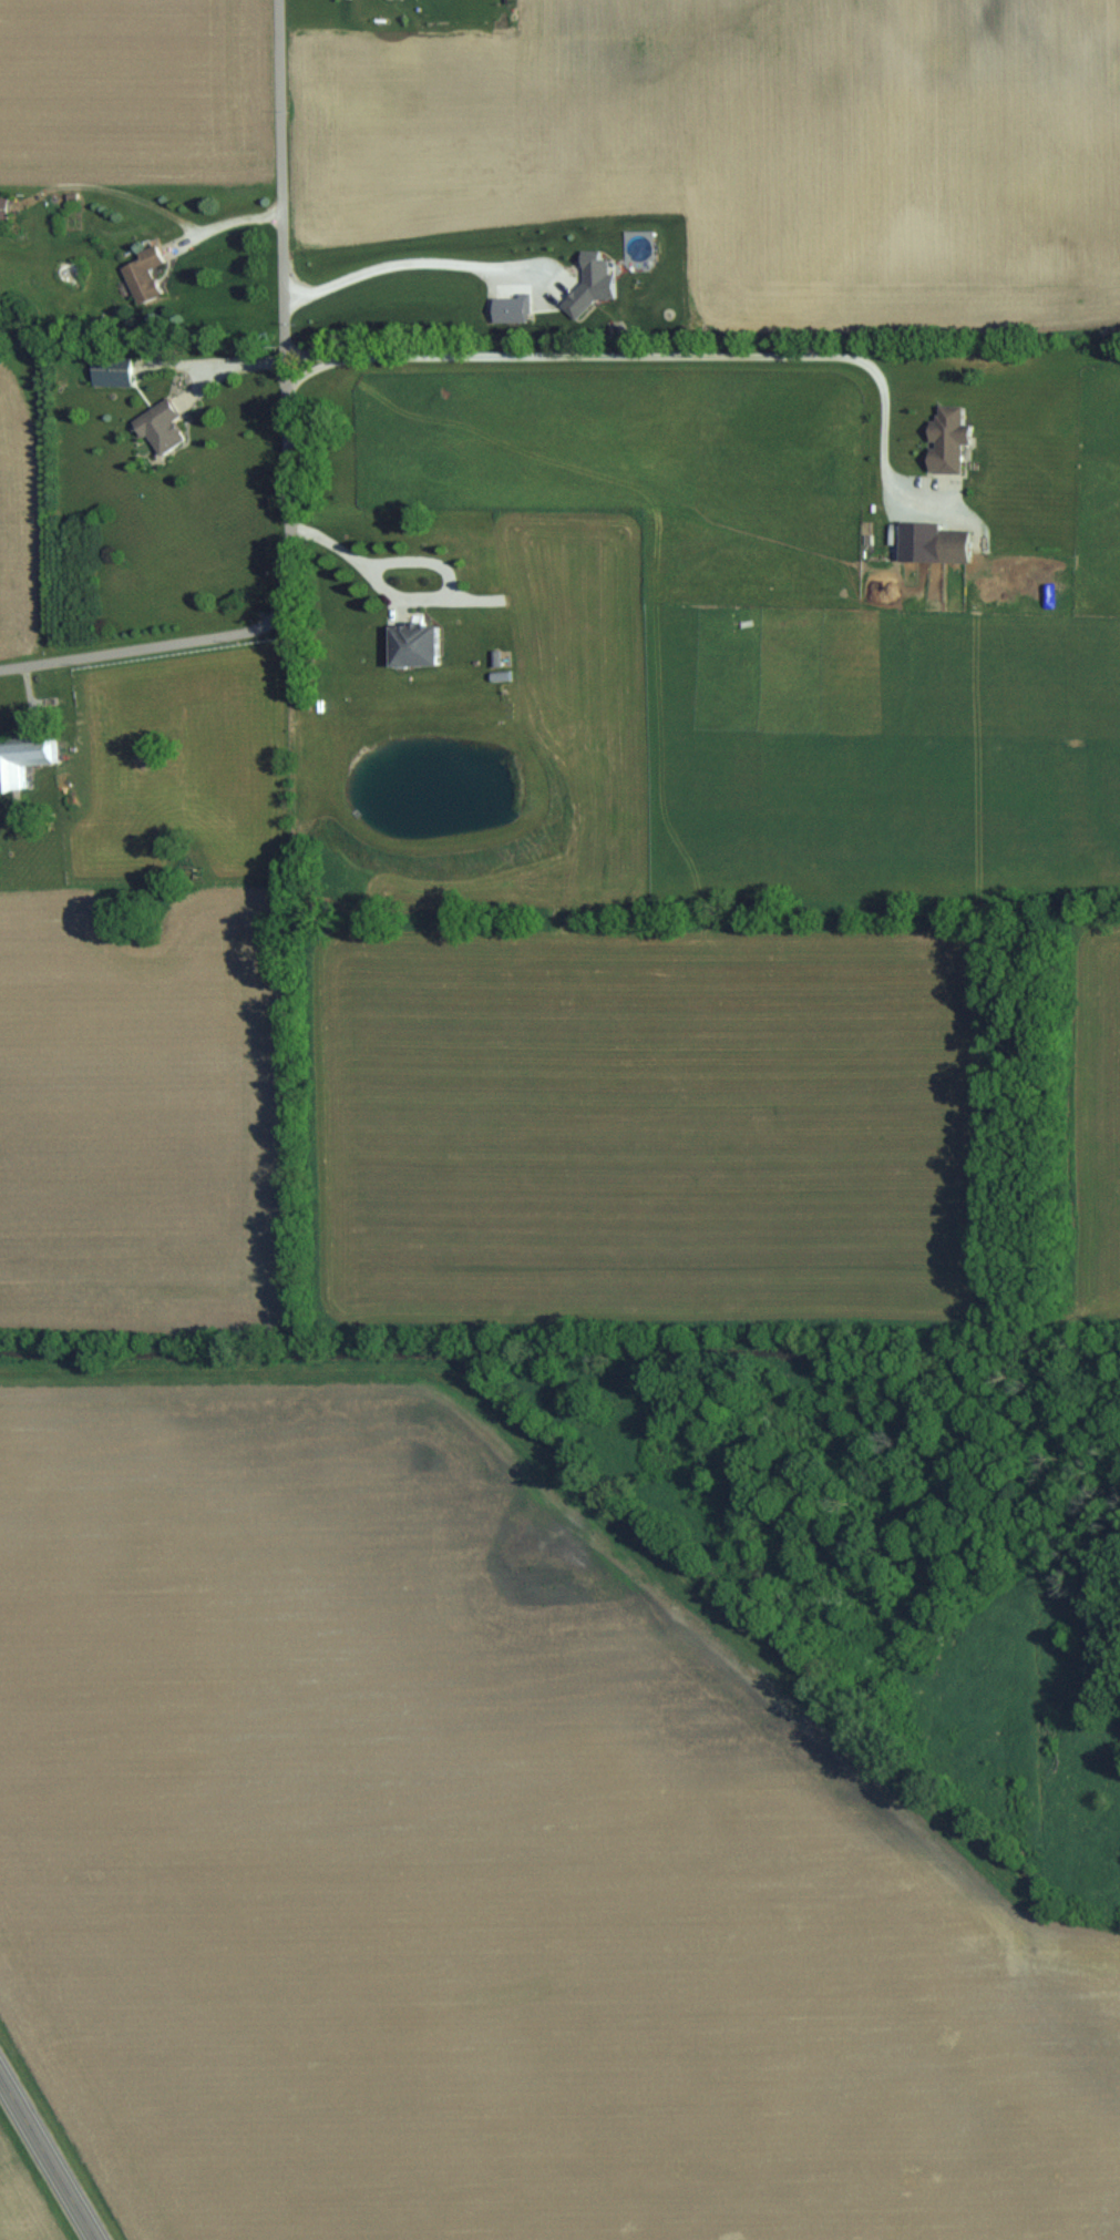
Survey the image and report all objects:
building: (4, 207)
road: (223, 221)
road: (408, 257)
building: (143, 274)
road: (679, 356)
road: (227, 367)
building: (111, 371)
building: (161, 427)
building: (947, 439)
road: (286, 450)
building: (953, 543)
road: (415, 597)
building: (414, 644)
building: (22, 758)
road: (48, 2158)

